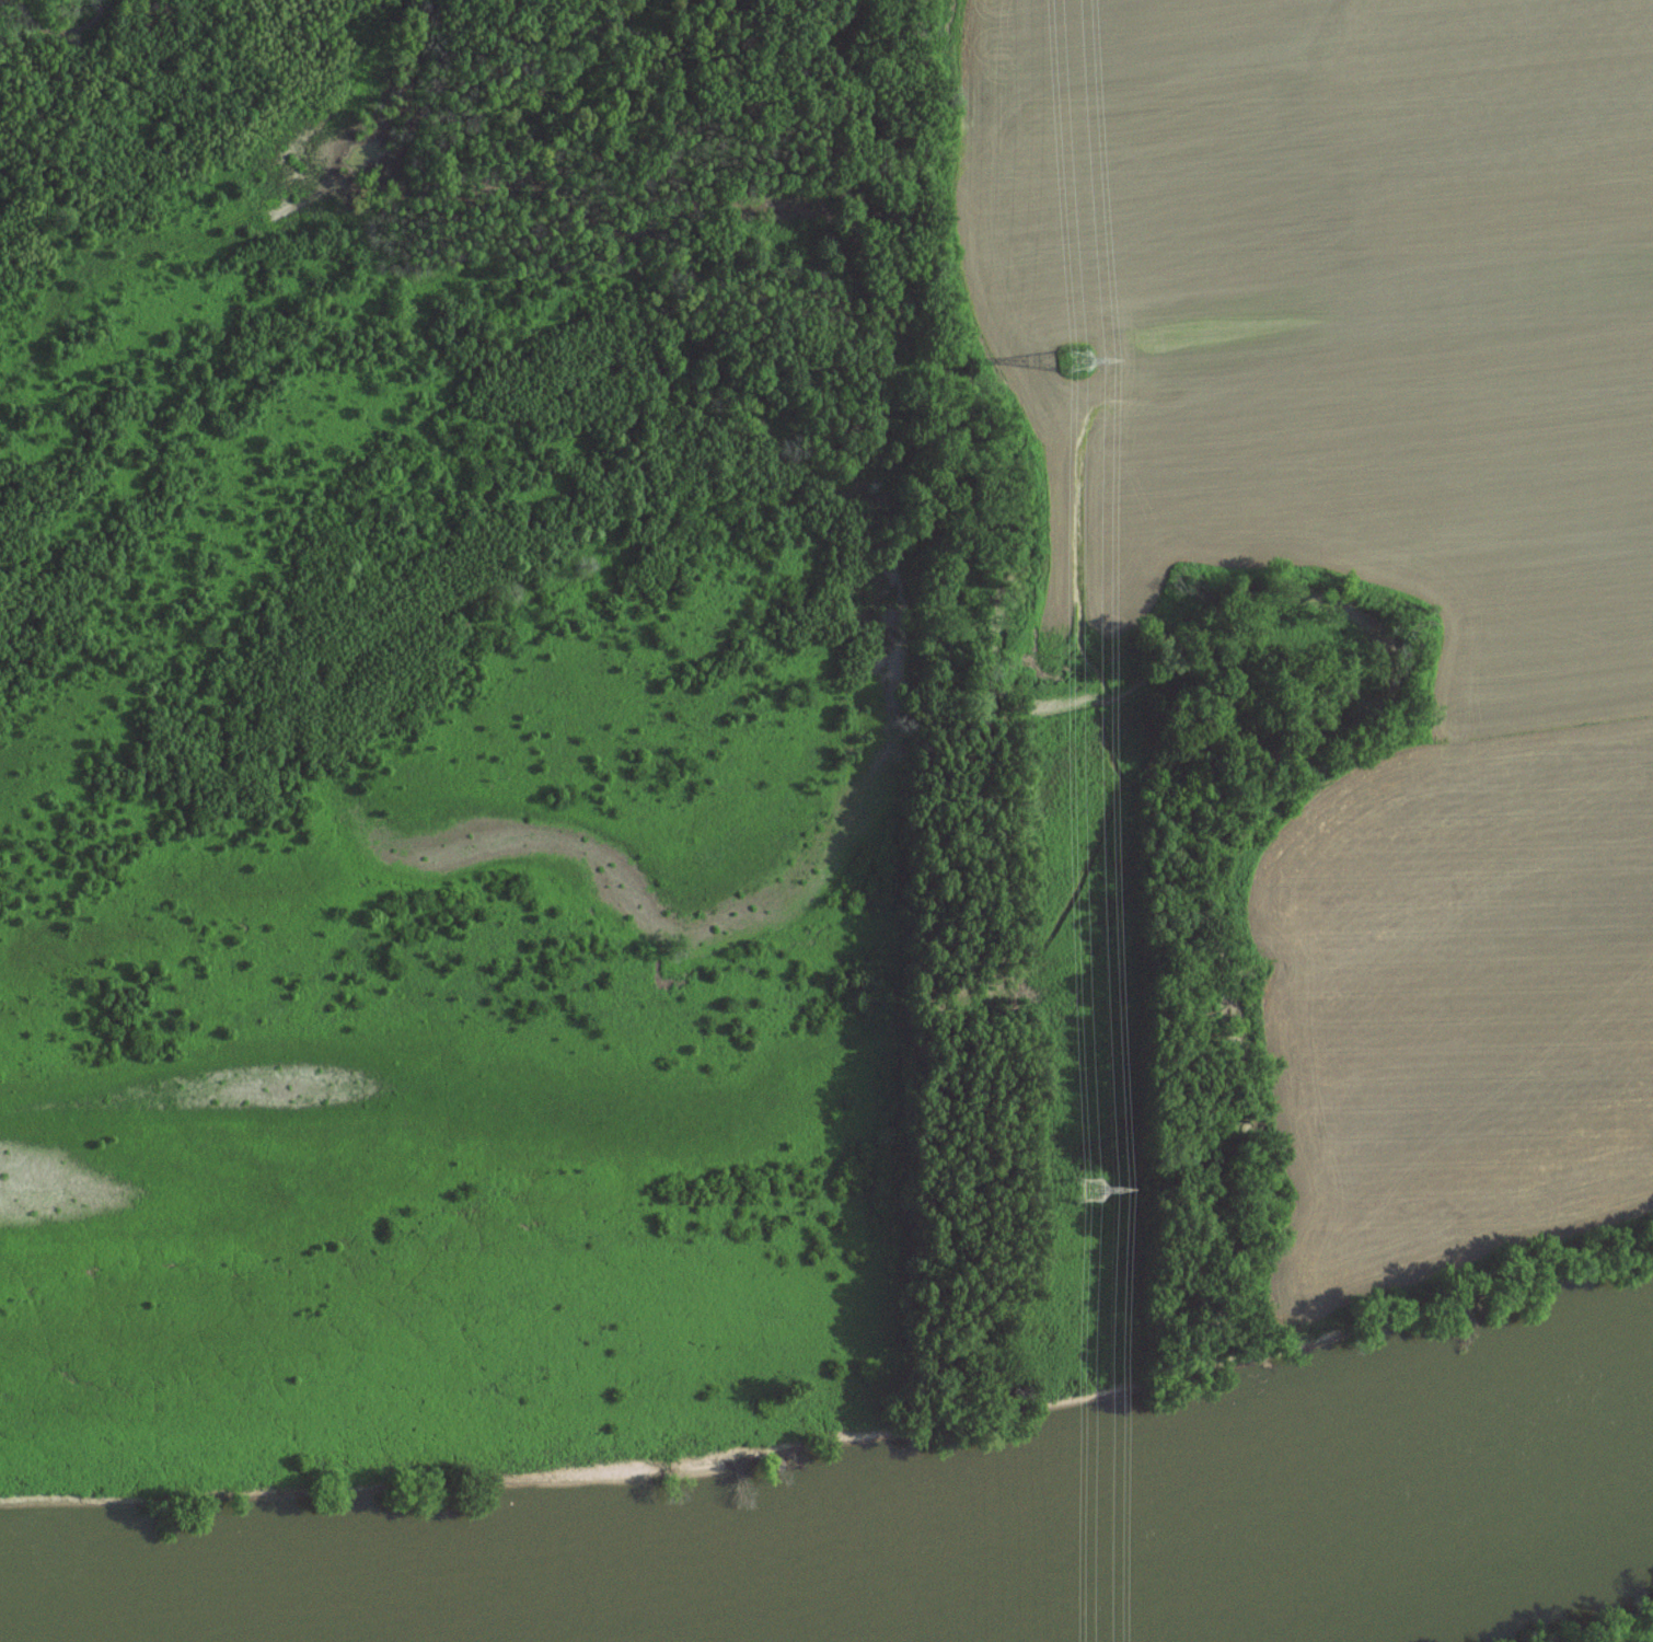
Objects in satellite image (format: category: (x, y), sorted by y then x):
power tower: (1082, 361)
power tower: (1093, 1192)
river: (996, 1548)

